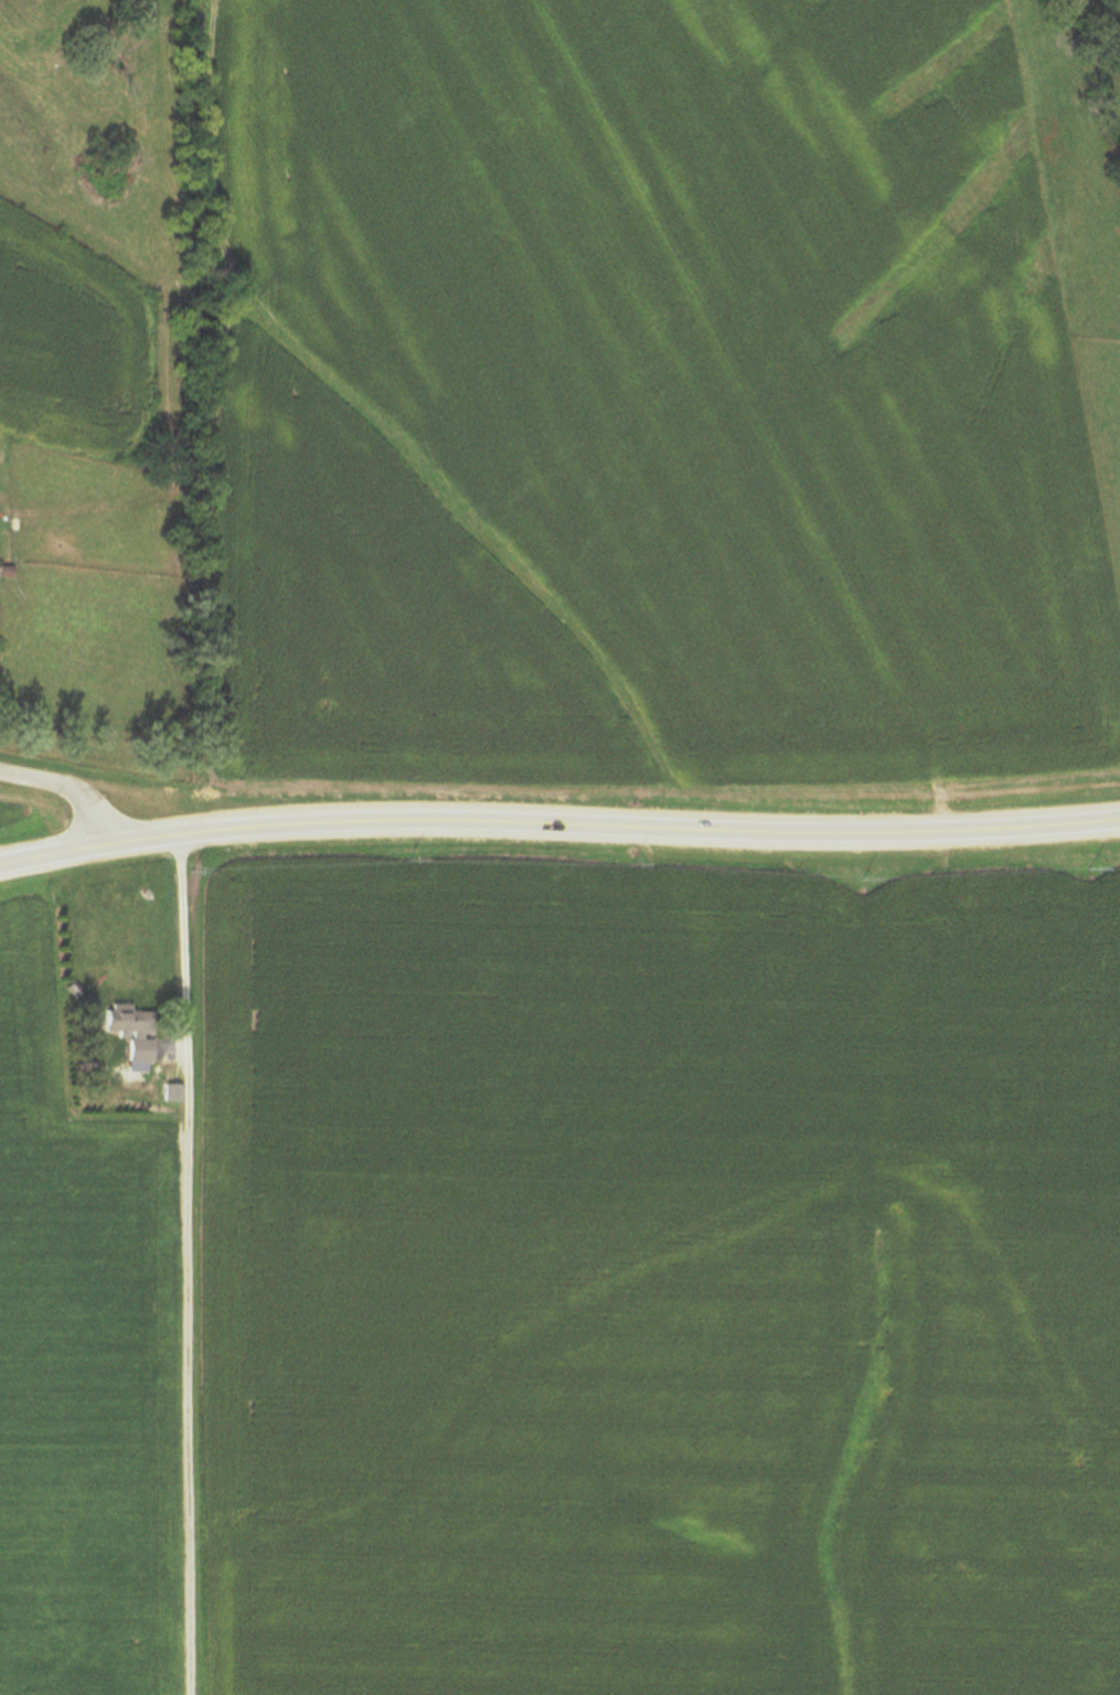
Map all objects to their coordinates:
road: (686, 407)
building: (4, 572)
road: (67, 791)
road: (180, 797)
road: (558, 822)
building: (129, 1032)
building: (174, 1092)
road: (189, 1266)

